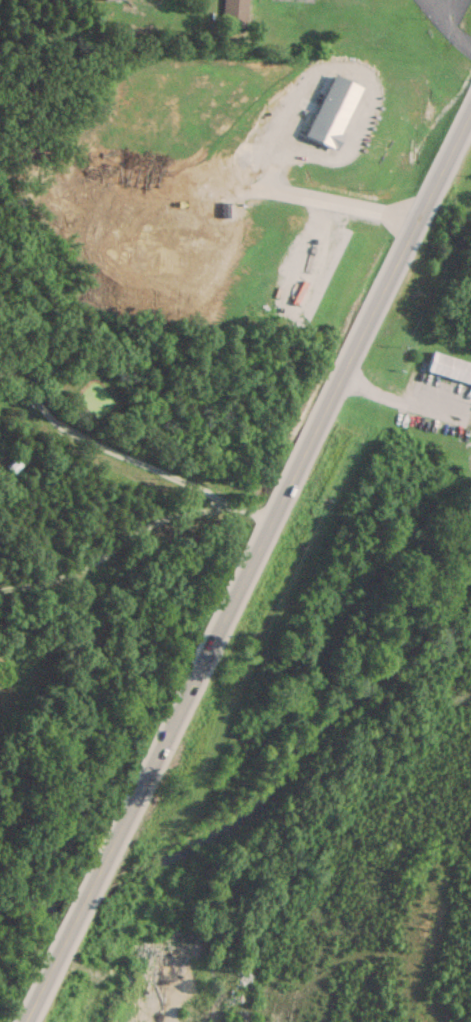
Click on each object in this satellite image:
road: (426, 6)
building: (232, 9)
road: (456, 15)
road: (446, 28)
road: (349, 65)
road: (273, 195)
building: (450, 368)
road: (403, 401)
road: (318, 420)
road: (125, 462)
road: (111, 553)
road: (95, 878)

